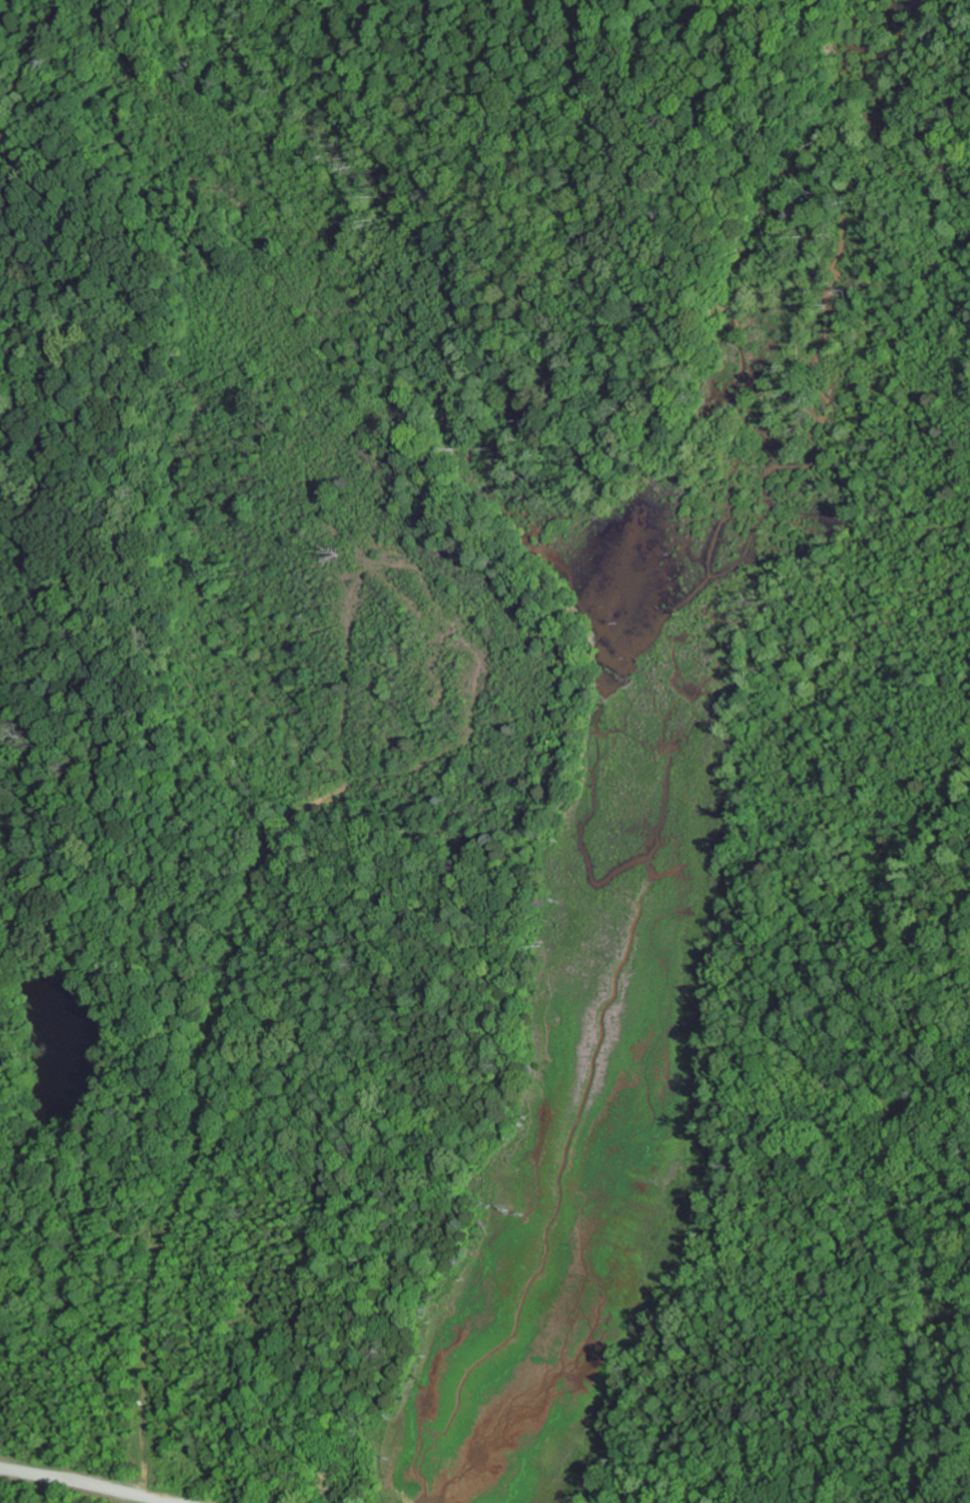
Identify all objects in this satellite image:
road: (86, 1484)

